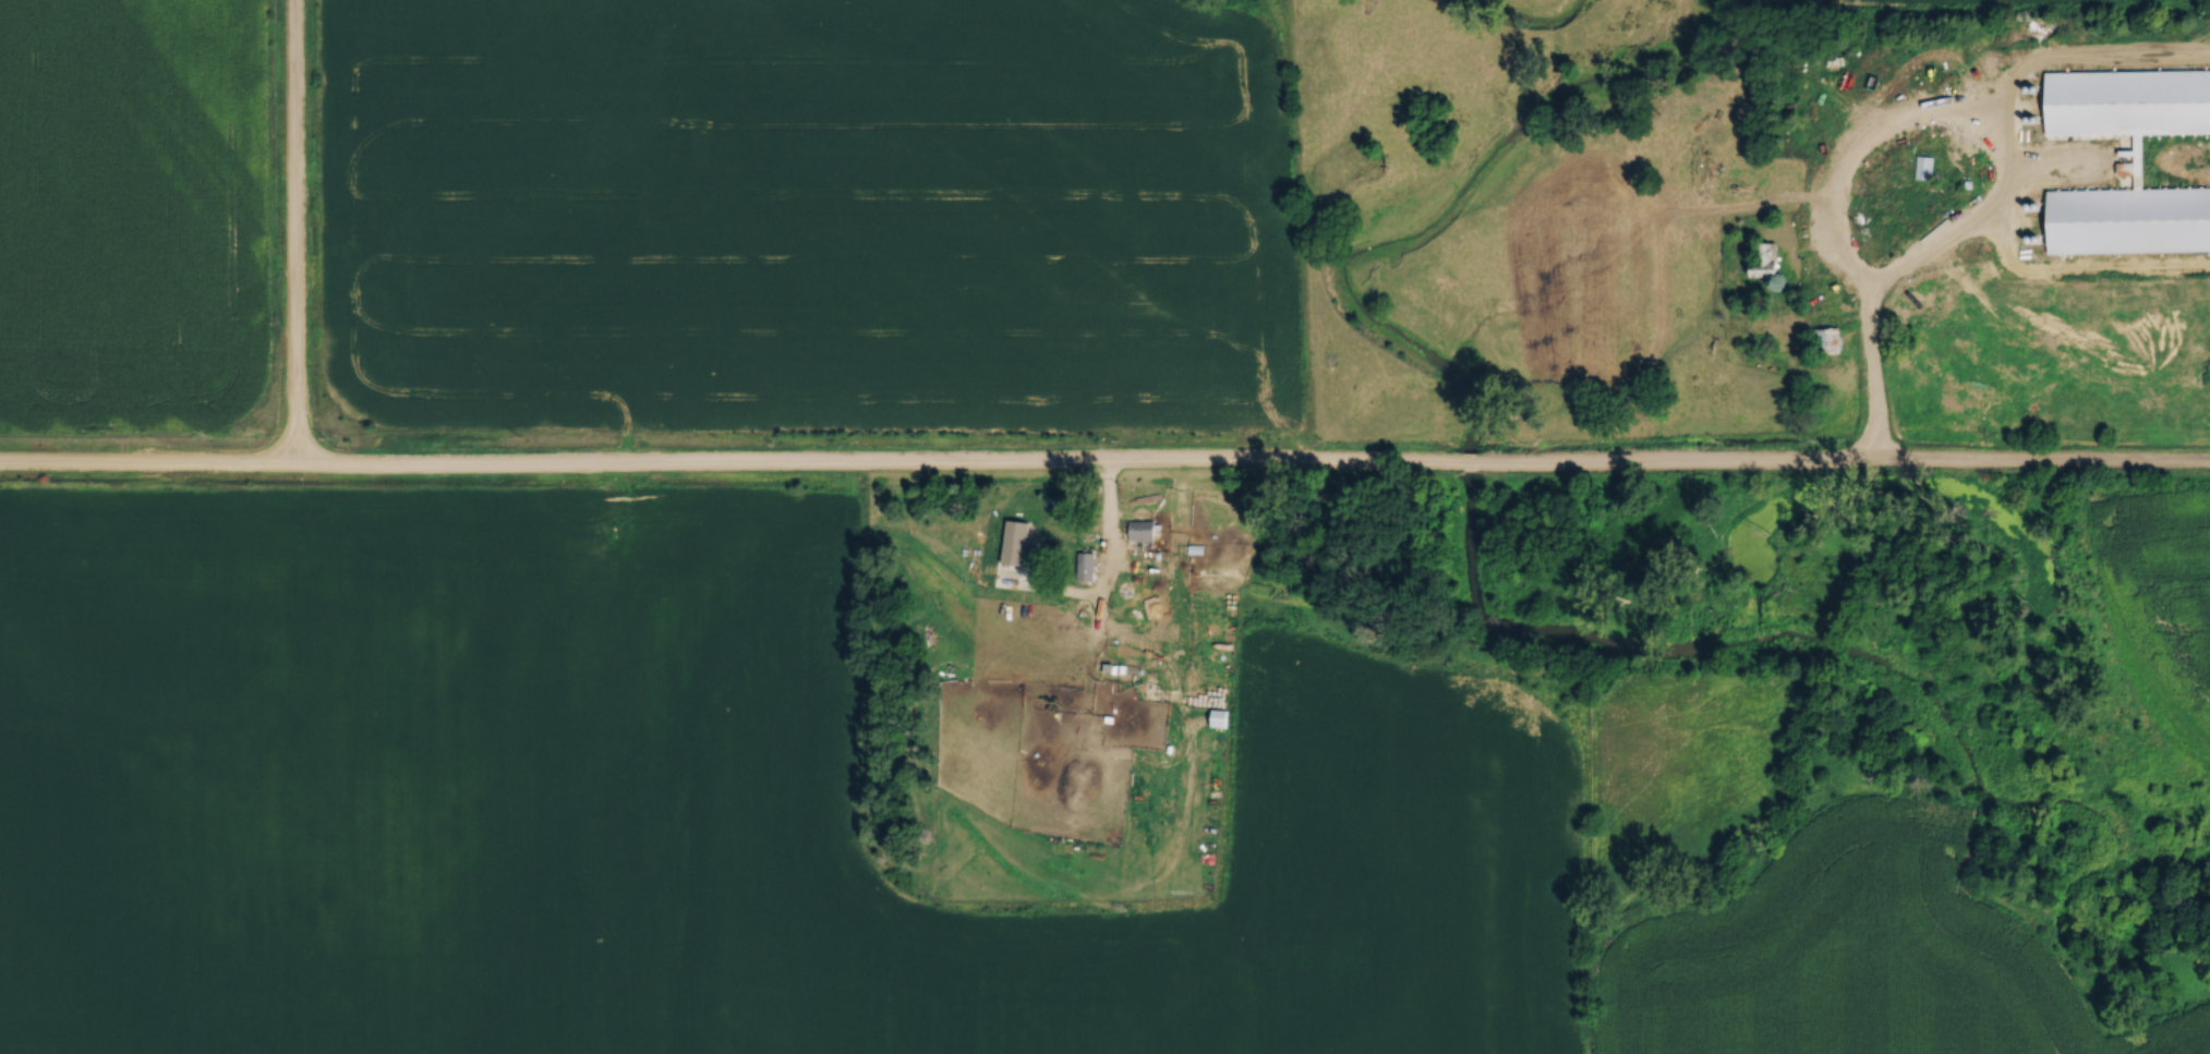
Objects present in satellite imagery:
building: (2128, 98)
building: (1924, 162)
building: (2129, 216)
road: (292, 231)
building: (1767, 257)
road: (1858, 280)
building: (1840, 281)
building: (1829, 336)
road: (1879, 392)
road: (1104, 461)
building: (1142, 526)
building: (1016, 543)
building: (1084, 562)

